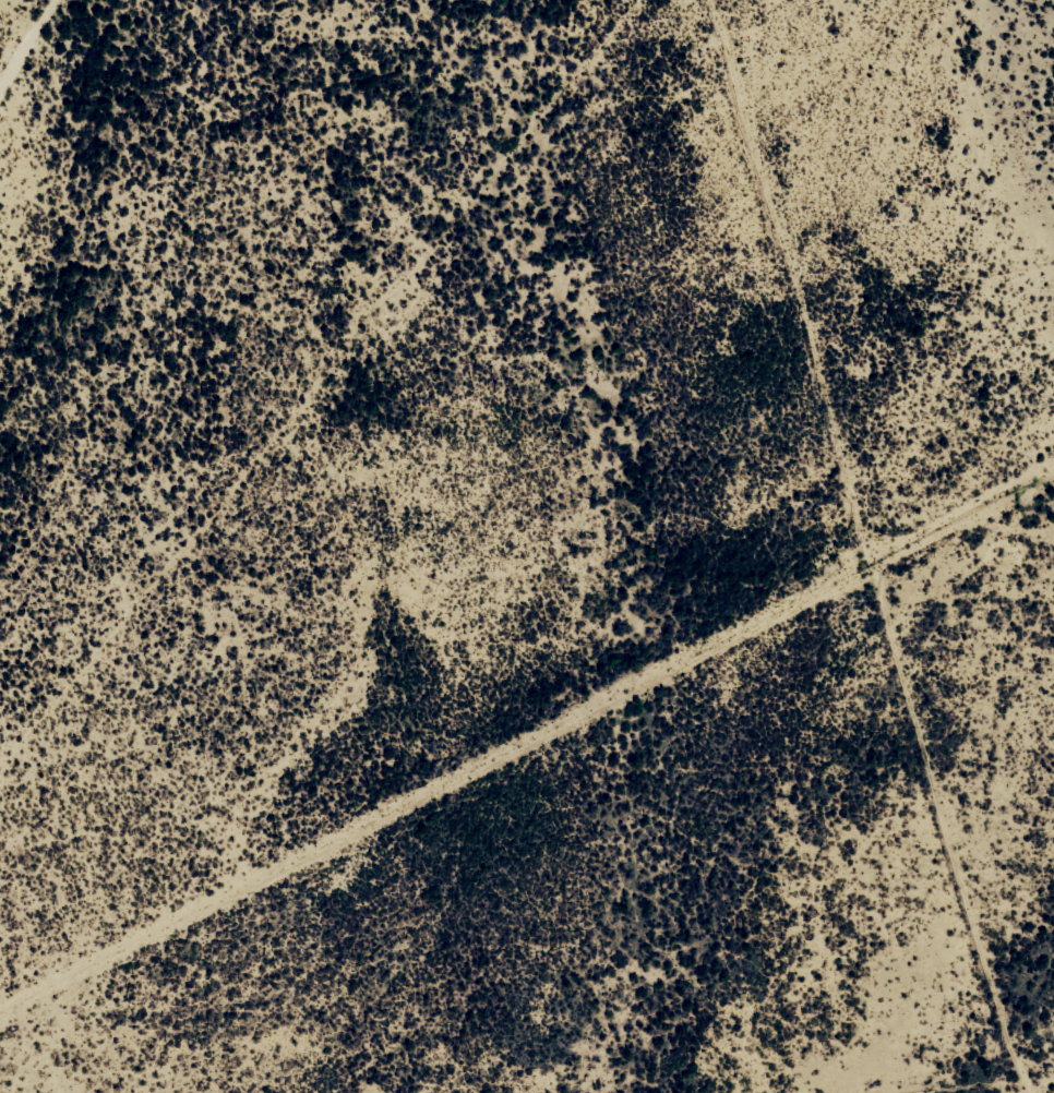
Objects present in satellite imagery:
road: (22, 40)

